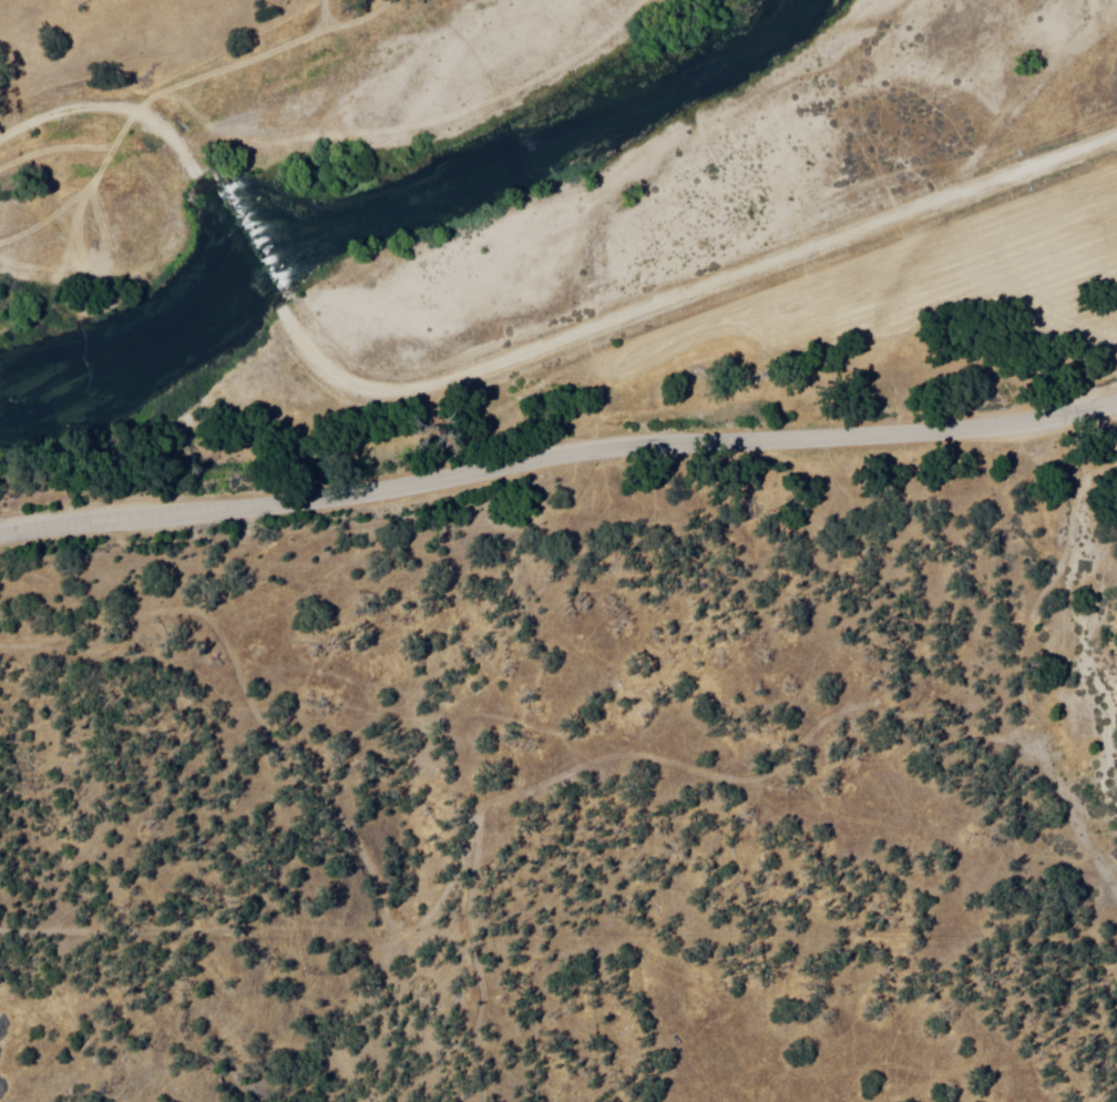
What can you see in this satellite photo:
river: (625, 74)
road: (116, 109)
river: (484, 153)
river: (340, 220)
road: (247, 255)
river: (116, 290)
road: (694, 292)
road: (556, 458)

